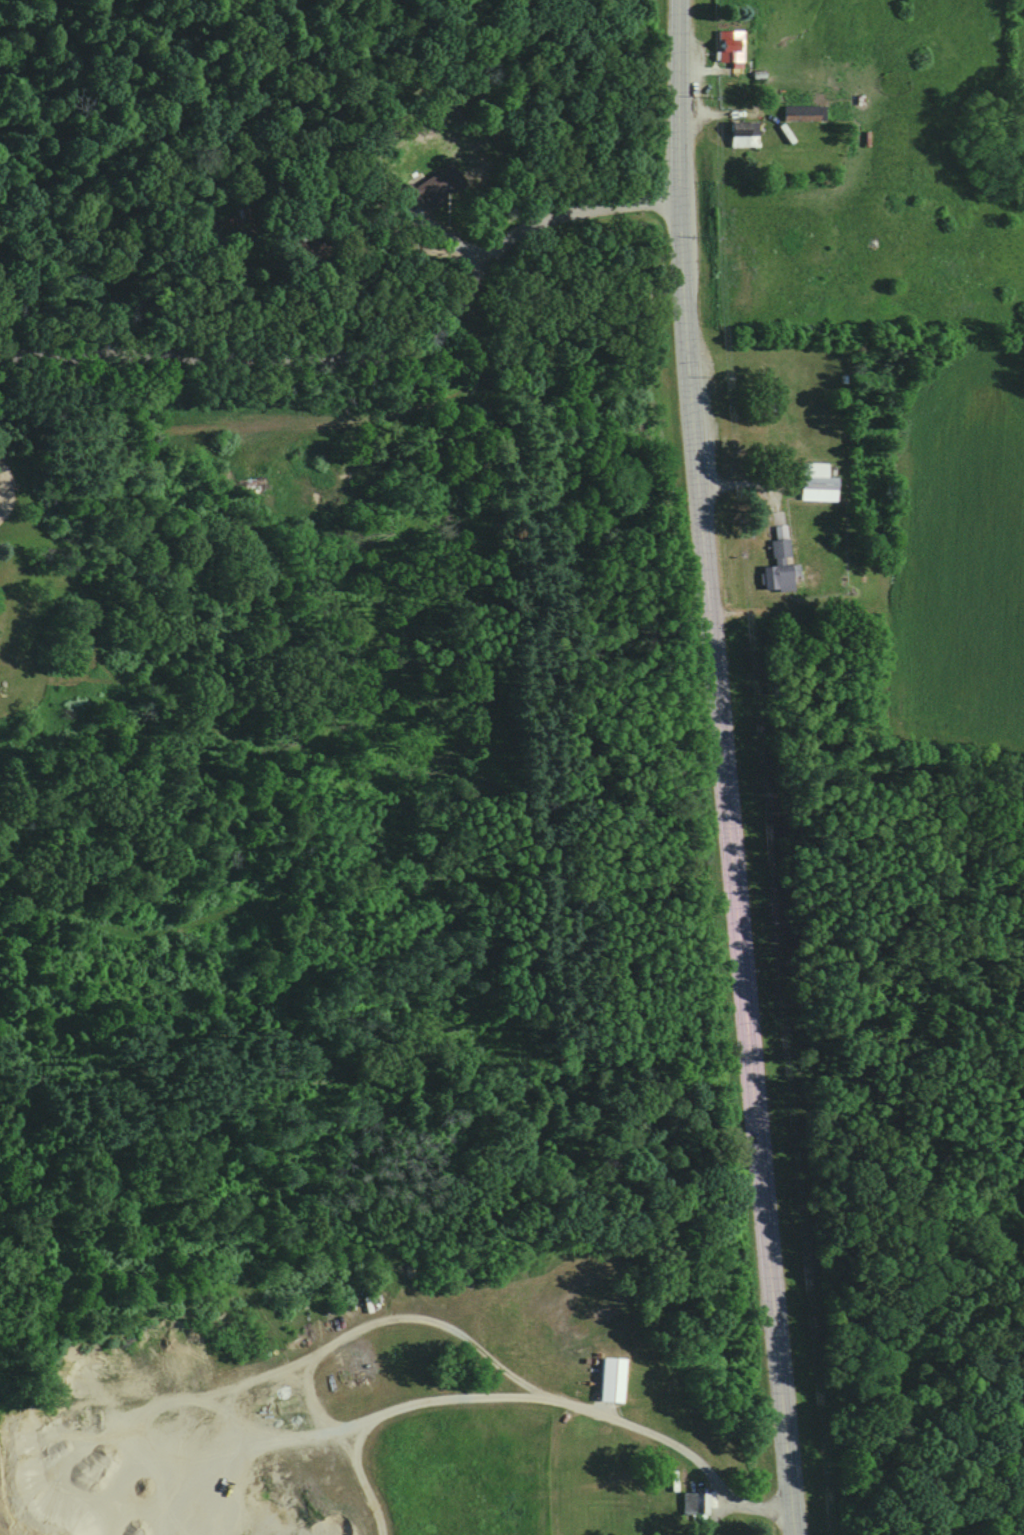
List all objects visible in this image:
building: (730, 46)
building: (803, 113)
building: (746, 134)
road: (372, 358)
building: (819, 483)
building: (781, 564)
road: (728, 767)
building: (614, 1379)
road: (733, 1491)
building: (696, 1503)

